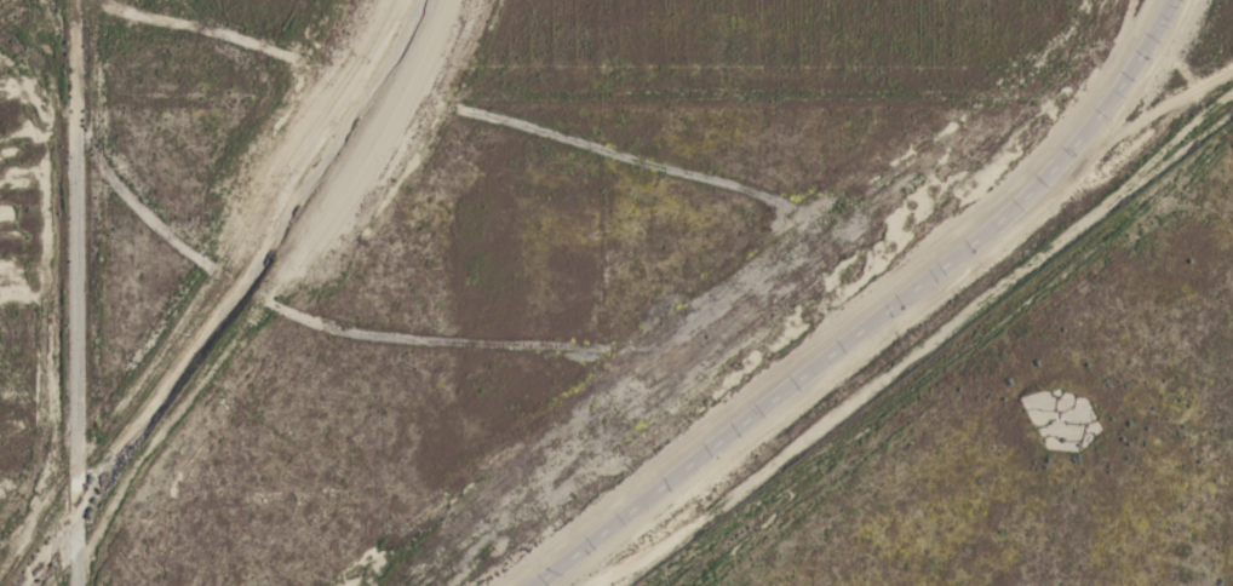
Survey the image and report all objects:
road: (877, 316)

